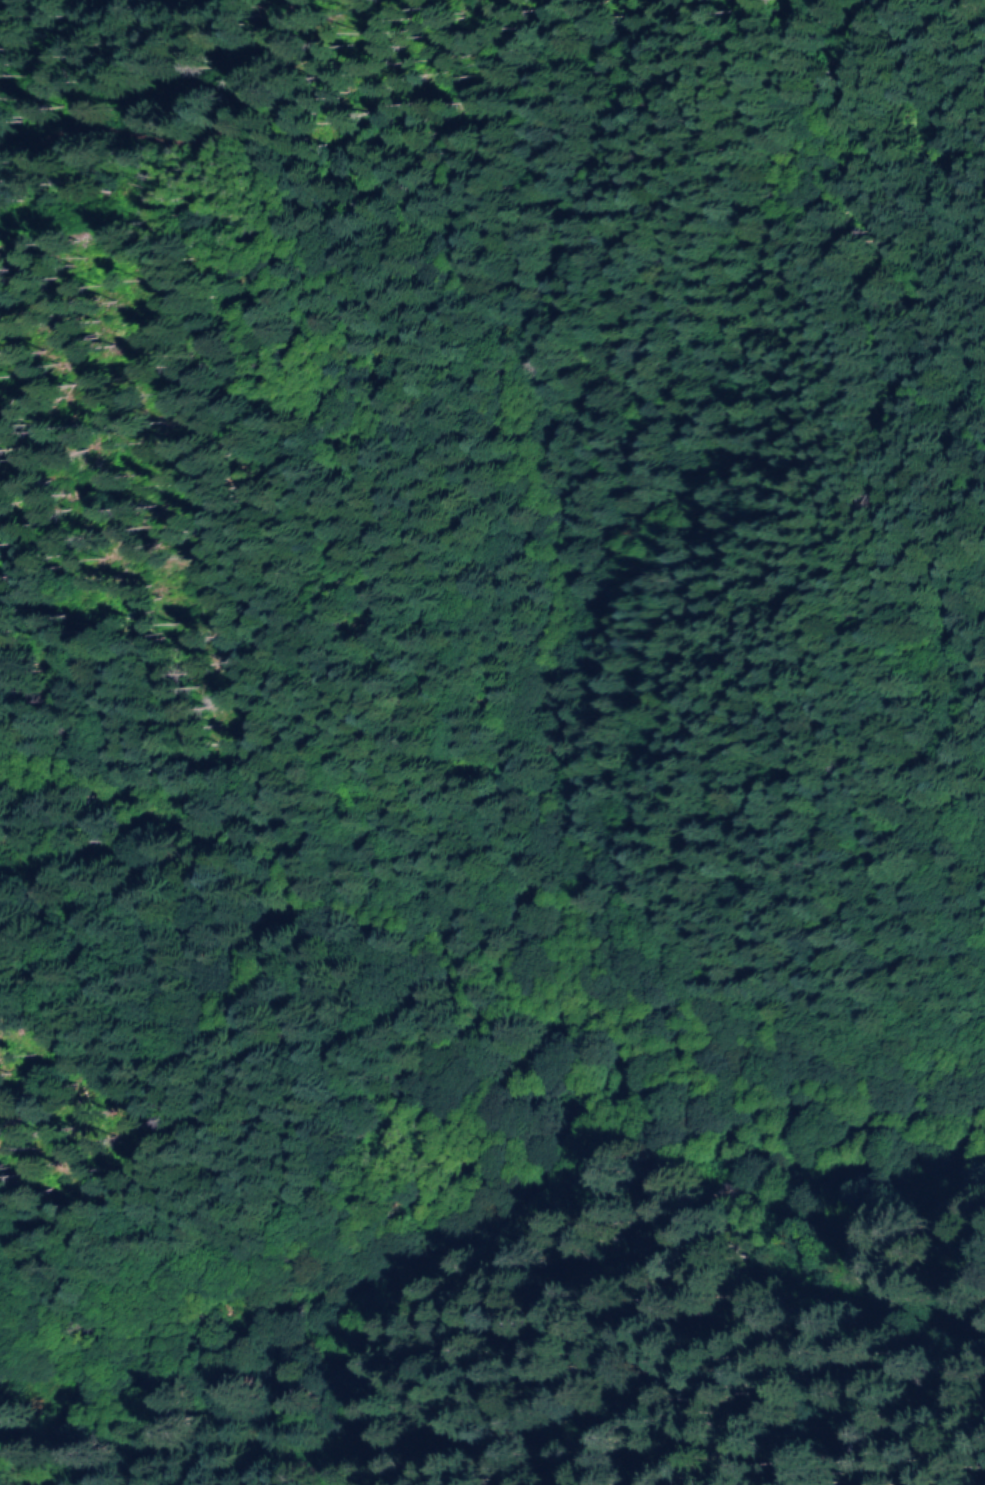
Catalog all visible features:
road: (179, 118)

